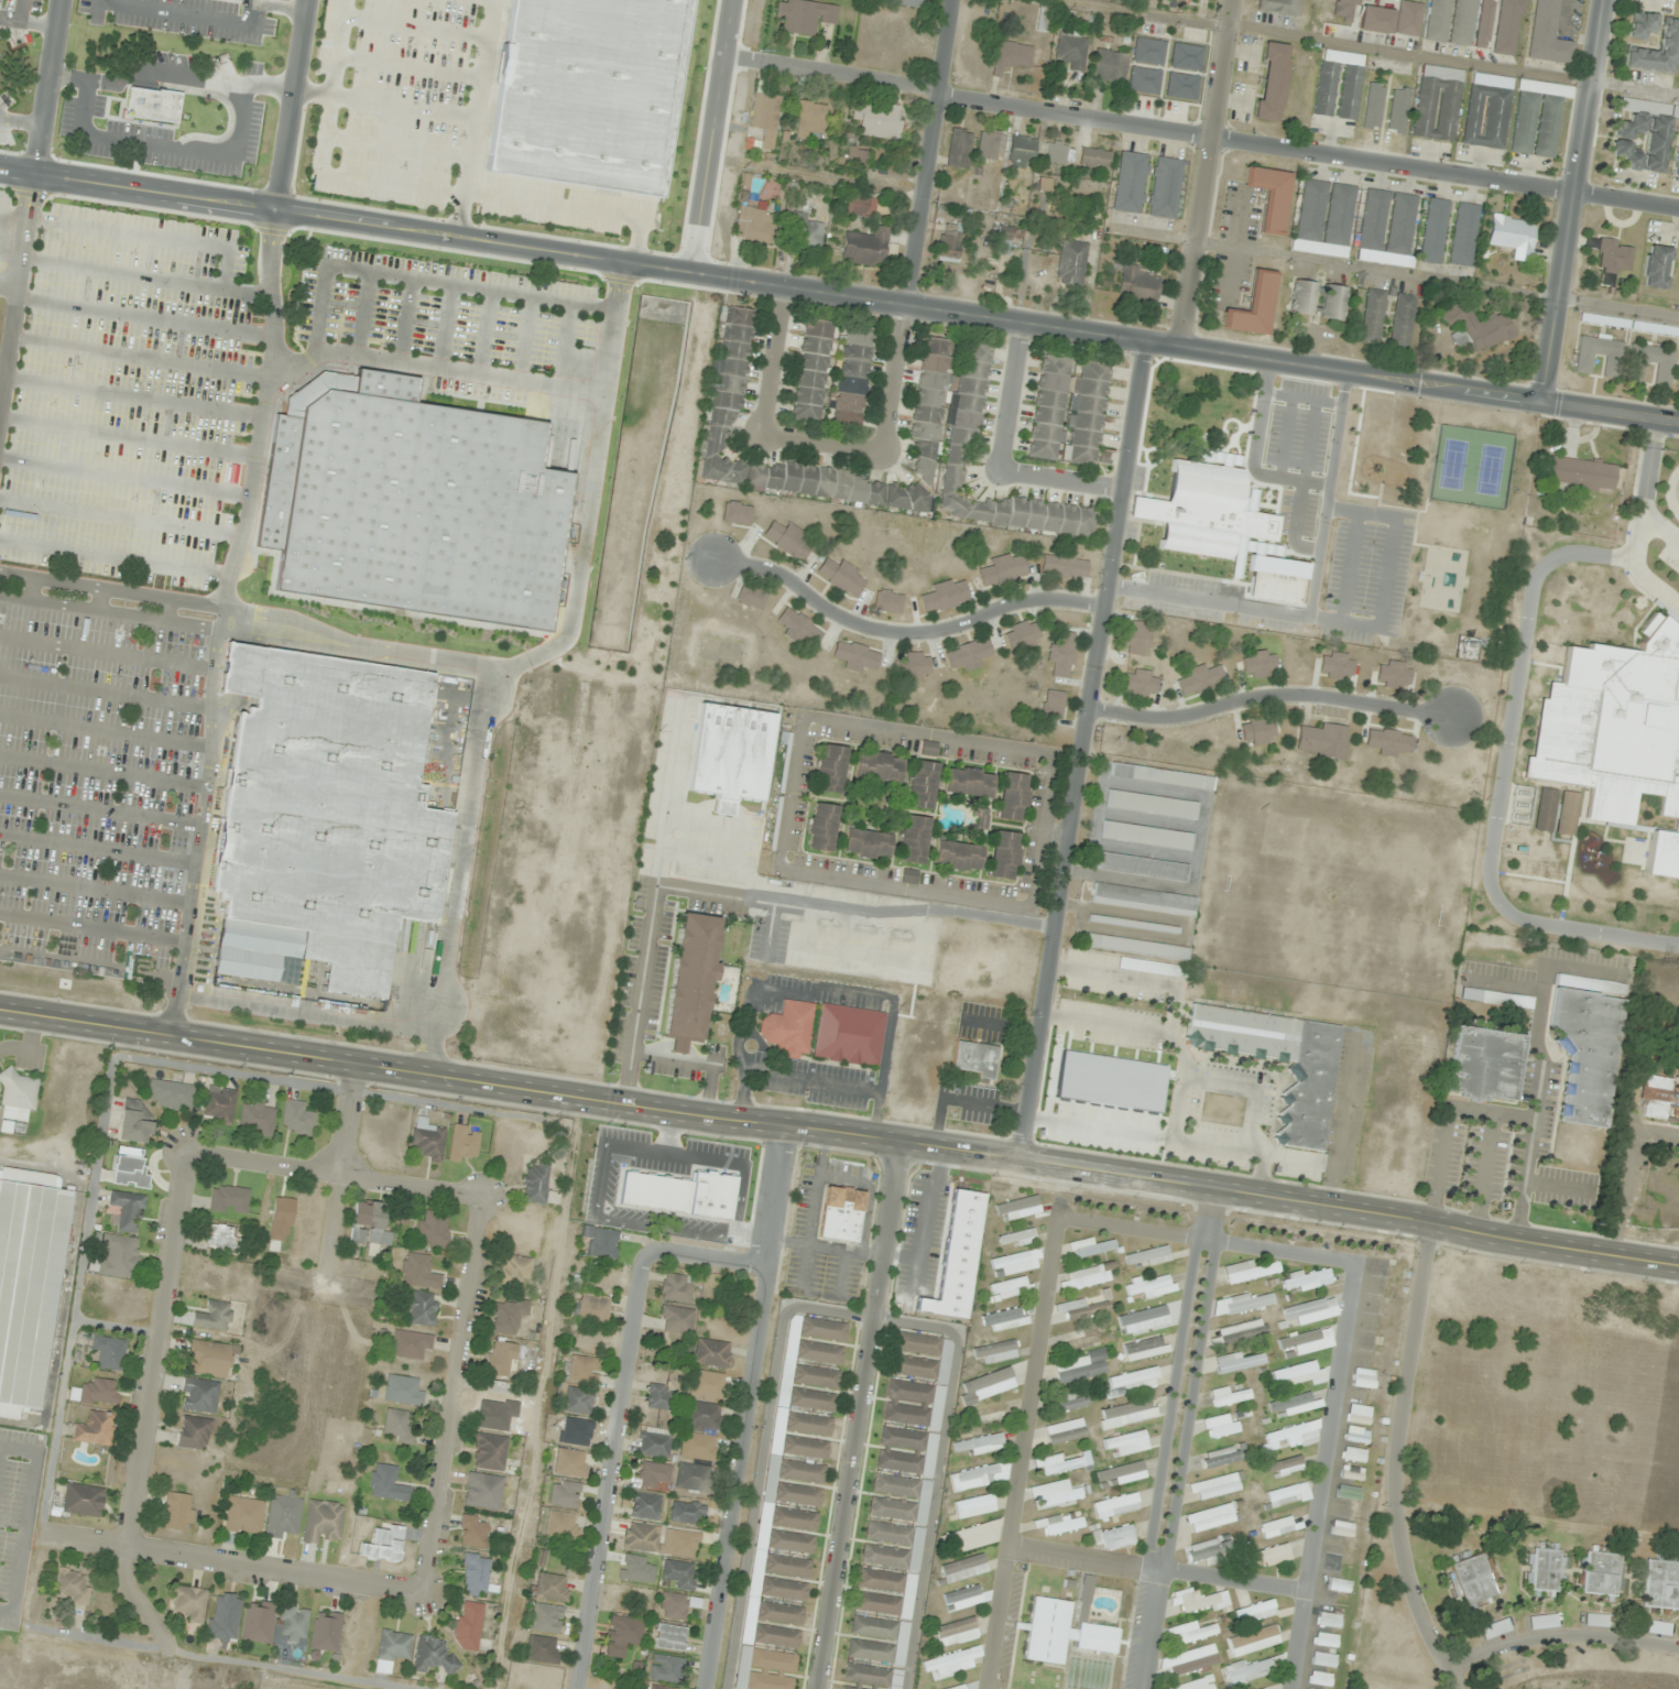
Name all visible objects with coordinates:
road: (250, 1)
building: (911, 3)
building: (1279, 7)
road: (6, 9)
building: (1345, 9)
road: (96, 10)
building: (804, 15)
road: (0, 18)
building: (1045, 19)
building: (1409, 19)
road: (209, 20)
building: (1376, 20)
building: (1438, 20)
building: (1462, 22)
road: (29, 23)
building: (1642, 25)
road: (414, 26)
building: (1545, 34)
building: (1149, 51)
building: (1072, 53)
building: (1658, 53)
building: (1012, 56)
building: (1186, 56)
building: (1110, 62)
road: (407, 66)
building: (1144, 80)
building: (1272, 81)
building: (1339, 85)
road: (48, 86)
building: (1181, 87)
building: (586, 92)
building: (1437, 103)
road: (288, 105)
road: (381, 105)
building: (1373, 106)
building: (1398, 110)
building: (766, 111)
building: (1486, 117)
road: (472, 118)
building: (1537, 118)
building: (808, 120)
building: (877, 121)
road: (21, 122)
road: (1200, 130)
road: (710, 135)
building: (1623, 143)
building: (991, 145)
road: (395, 146)
building: (959, 149)
building: (1022, 152)
building: (1059, 153)
road: (321, 157)
building: (1094, 159)
building: (861, 160)
building: (1677, 162)
road: (1209, 173)
building: (1130, 183)
building: (1045, 186)
building: (1165, 188)
building: (1271, 197)
road: (1572, 200)
building: (857, 205)
road: (573, 207)
building: (1326, 219)
building: (1388, 224)
road: (920, 226)
building: (755, 227)
building: (1435, 231)
building: (805, 233)
building: (1464, 235)
road: (145, 236)
building: (1513, 236)
building: (1003, 242)
building: (949, 247)
building: (865, 248)
building: (1613, 255)
building: (1071, 264)
building: (1656, 268)
road: (144, 277)
road: (423, 280)
road: (17, 281)
building: (1138, 285)
road: (8, 287)
road: (839, 294)
building: (1302, 297)
building: (1254, 307)
road: (361, 314)
road: (143, 318)
building: (1373, 318)
road: (405, 320)
building: (1604, 322)
building: (1403, 323)
road: (445, 326)
building: (1475, 327)
building: (1656, 329)
road: (484, 333)
road: (524, 338)
road: (565, 345)
road: (138, 358)
road: (773, 358)
building: (1612, 364)
road: (433, 367)
building: (811, 371)
building: (1664, 372)
building: (853, 377)
building: (728, 385)
building: (1678, 389)
road: (1010, 395)
road: (132, 396)
building: (1069, 412)
road: (128, 436)
road: (822, 440)
building: (969, 446)
building: (1582, 473)
road: (124, 478)
road: (1059, 482)
road: (588, 489)
building: (410, 502)
building: (1201, 511)
building: (737, 513)
road: (120, 517)
building: (788, 538)
road: (113, 558)
building: (1065, 566)
building: (1003, 569)
building: (840, 577)
road: (111, 589)
building: (945, 596)
building: (751, 597)
building: (887, 602)
road: (109, 612)
road: (219, 622)
building: (797, 628)
road: (901, 633)
building: (1022, 634)
building: (1136, 638)
road: (356, 647)
road: (106, 654)
building: (969, 655)
building: (1061, 655)
building: (855, 657)
building: (1258, 664)
building: (913, 665)
building: (1337, 665)
building: (1394, 675)
building: (1199, 680)
building: (1141, 684)
road: (103, 691)
road: (1272, 695)
building: (1053, 705)
building: (1614, 727)
road: (105, 730)
building: (1257, 730)
building: (1321, 741)
building: (1388, 742)
building: (929, 749)
road: (1082, 751)
building: (731, 755)
building: (877, 767)
building: (831, 769)
road: (102, 772)
building: (1162, 777)
building: (969, 783)
building: (922, 785)
building: (1013, 796)
building: (1152, 805)
building: (1545, 809)
road: (100, 810)
building: (1567, 813)
building: (323, 816)
building: (822, 827)
building: (1147, 836)
building: (914, 839)
building: (866, 844)
road: (97, 848)
building: (1004, 854)
building: (957, 856)
building: (1662, 856)
building: (1142, 868)
road: (459, 871)
building: (909, 876)
road: (94, 889)
building: (1144, 901)
building: (1133, 925)
road: (91, 928)
building: (1136, 948)
road: (88, 965)
building: (1152, 968)
building: (690, 980)
building: (789, 1029)
building: (848, 1035)
building: (1587, 1046)
building: (974, 1059)
building: (1485, 1065)
building: (170, 1094)
building: (1660, 1099)
building: (17, 1102)
building: (1306, 1103)
building: (219, 1105)
building: (257, 1119)
building: (296, 1119)
road: (345, 1119)
building: (133, 1123)
road: (839, 1135)
building: (427, 1140)
building: (130, 1169)
road: (330, 1170)
building: (535, 1184)
building: (228, 1199)
building: (1017, 1208)
building: (127, 1211)
building: (841, 1214)
building: (368, 1225)
building: (433, 1229)
building: (221, 1239)
building: (1017, 1239)
building: (602, 1243)
building: (1092, 1247)
building: (119, 1256)
building: (1016, 1263)
building: (514, 1271)
building: (417, 1272)
building: (1249, 1272)
building: (29, 1276)
building: (1086, 1277)
building: (1306, 1279)
road: (635, 1282)
building: (1148, 1286)
building: (1010, 1287)
building: (676, 1288)
building: (1243, 1304)
building: (590, 1308)
building: (421, 1309)
building: (1081, 1309)
building: (1311, 1310)
road: (838, 1312)
building: (212, 1316)
building: (506, 1316)
building: (1004, 1319)
building: (676, 1320)
building: (1144, 1320)
road: (918, 1325)
building: (822, 1330)
building: (1243, 1332)
building: (1083, 1341)
building: (1307, 1341)
building: (411, 1344)
road: (150, 1347)
building: (1145, 1349)
road: (1350, 1350)
building: (997, 1352)
building: (108, 1353)
building: (712, 1353)
building: (819, 1353)
building: (920, 1356)
building: (207, 1359)
building: (500, 1359)
building: (1238, 1362)
building: (1081, 1367)
building: (582, 1370)
building: (1298, 1374)
building: (815, 1376)
building: (1133, 1377)
building: (1364, 1379)
road: (1039, 1384)
building: (706, 1385)
building: (989, 1385)
building: (402, 1391)
building: (99, 1392)
building: (198, 1395)
road: (453, 1395)
building: (1229, 1396)
building: (658, 1397)
building: (811, 1399)
building: (577, 1401)
building: (1069, 1403)
building: (913, 1404)
building: (1294, 1405)
road: (749, 1408)
building: (989, 1414)
building: (1127, 1414)
building: (1359, 1414)
road: (859, 1417)
building: (808, 1425)
building: (396, 1427)
building: (1219, 1427)
building: (95, 1429)
building: (1065, 1431)
building: (193, 1432)
building: (699, 1432)
building: (1294, 1435)
building: (1356, 1436)
road: (1180, 1440)
building: (1127, 1443)
building: (654, 1445)
building: (981, 1445)
building: (805, 1448)
building: (488, 1451)
building: (906, 1451)
building: (1353, 1454)
building: (1221, 1457)
road: (1394, 1460)
building: (570, 1463)
building: (1061, 1464)
building: (1285, 1468)
building: (800, 1472)
building: (653, 1474)
building: (1122, 1474)
building: (1351, 1474)
building: (694, 1476)
building: (979, 1476)
building: (386, 1483)
building: (900, 1486)
building: (1215, 1486)
building: (482, 1491)
road: (756, 1492)
building: (1349, 1492)
building: (564, 1493)
building: (797, 1495)
building: (1055, 1495)
building: (1288, 1495)
building: (83, 1501)
building: (645, 1506)
building: (974, 1506)
building: (1116, 1506)
building: (892, 1508)
building: (177, 1512)
building: (687, 1513)
road: (935, 1514)
building: (242, 1516)
building: (282, 1516)
building: (794, 1518)
building: (1210, 1518)
building: (321, 1522)
building: (560, 1525)
building: (1276, 1527)
building: (1341, 1529)
building: (472, 1533)
building: (887, 1534)
building: (973, 1536)
building: (1115, 1538)
building: (661, 1540)
building: (791, 1543)
building: (1211, 1550)
building: (885, 1556)
building: (1272, 1556)
road: (593, 1560)
road: (227, 1562)
building: (786, 1566)
building: (963, 1569)
road: (1160, 1569)
building: (1546, 1570)
building: (677, 1574)
building: (1602, 1574)
building: (477, 1576)
building: (881, 1580)
building: (1471, 1580)
building: (1338, 1586)
building: (1660, 1586)
building: (70, 1587)
building: (550, 1588)
building: (783, 1590)
building: (1084, 1597)
building: (962, 1599)
building: (1199, 1601)
building: (189, 1603)
building: (877, 1604)
building: (676, 1605)
building: (779, 1613)
building: (222, 1617)
building: (545, 1619)
building: (1328, 1621)
building: (1596, 1621)
building: (257, 1622)
building: (1542, 1622)
building: (292, 1624)
building: (468, 1626)
building: (879, 1628)
building: (1495, 1628)
building: (1656, 1628)
building: (624, 1631)
building: (325, 1632)
building: (956, 1632)
building: (1062, 1634)
building: (1195, 1634)
road: (1558, 1634)
building: (775, 1636)
building: (669, 1638)
building: (1253, 1641)
road: (1304, 1641)
building: (1326, 1641)
building: (393, 1647)
building: (542, 1649)
building: (870, 1652)
building: (433, 1656)
building: (1323, 1660)
building: (1188, 1661)
building: (952, 1663)
building: (665, 1669)
building: (771, 1670)
building: (1247, 1670)
building: (866, 1676)
building: (1320, 1679)
building: (1198, 1683)
building: (656, 1687)
building: (958, 1687)
building: (848, 1688)

